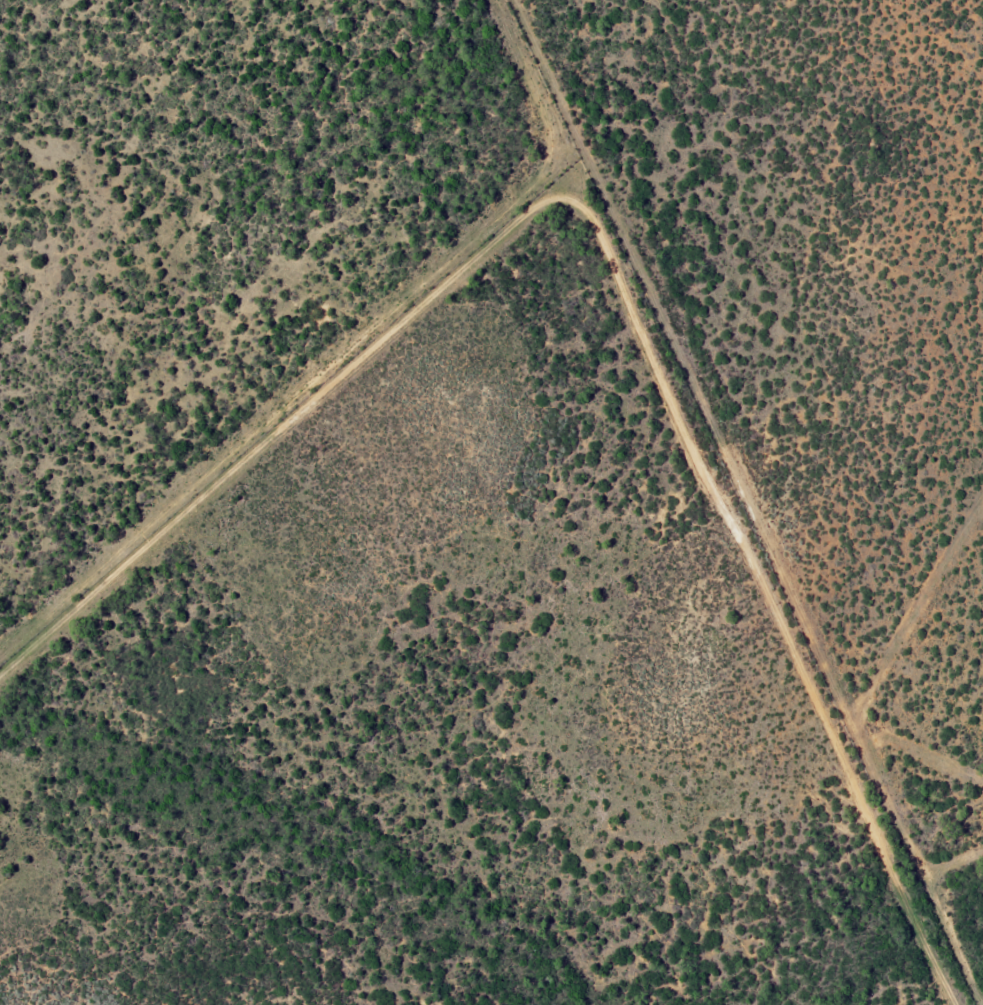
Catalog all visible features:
road: (378, 401)
road: (958, 951)

